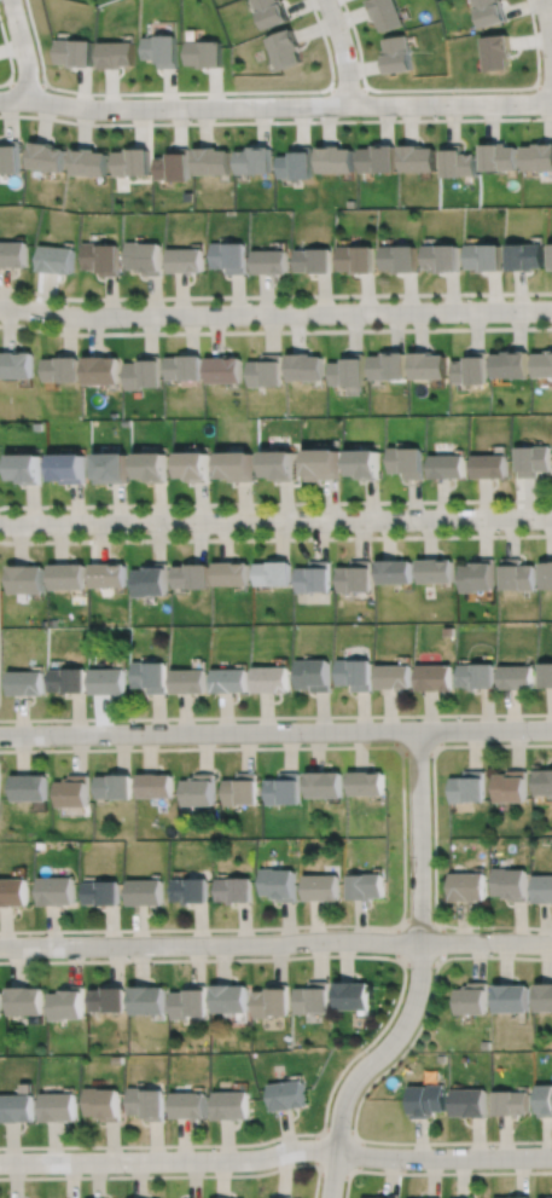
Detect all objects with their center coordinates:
building: (489, 11)
street lamp: (25, 12)
building: (272, 12)
building: (385, 13)
street lamp: (536, 22)
road: (548, 25)
street lamp: (354, 44)
road: (23, 48)
building: (285, 48)
building: (163, 50)
road: (343, 51)
building: (496, 51)
building: (76, 52)
building: (207, 53)
building: (117, 54)
building: (396, 54)
road: (7, 57)
road: (25, 83)
road: (542, 87)
road: (447, 88)
street lamp: (50, 89)
road: (347, 89)
road: (188, 92)
street lamp: (320, 94)
road: (275, 105)
street lamp: (438, 116)
street lamp: (192, 120)
road: (275, 122)
building: (8, 157)
building: (46, 157)
building: (498, 157)
building: (538, 157)
building: (376, 158)
building: (416, 158)
building: (333, 160)
building: (213, 161)
building: (255, 161)
building: (89, 162)
building: (132, 162)
building: (455, 162)
building: (296, 163)
building: (174, 166)
building: (13, 255)
building: (146, 257)
building: (231, 257)
building: (484, 257)
building: (527, 257)
building: (103, 259)
building: (399, 259)
building: (442, 259)
building: (57, 260)
building: (356, 260)
building: (187, 261)
building: (314, 261)
building: (273, 262)
road: (275, 296)
street lamp: (465, 299)
street lamp: (252, 301)
road: (275, 313)
street lamp: (367, 325)
street lamp: (121, 328)
road: (275, 330)
building: (16, 365)
building: (510, 365)
building: (542, 365)
building: (387, 366)
building: (426, 366)
building: (303, 367)
building: (185, 369)
building: (60, 370)
building: (223, 370)
building: (266, 370)
building: (347, 370)
building: (470, 370)
building: (100, 371)
building: (143, 374)
building: (535, 458)
building: (408, 459)
building: (364, 461)
building: (323, 462)
building: (196, 463)
building: (238, 463)
building: (279, 463)
building: (492, 463)
building: (112, 464)
building: (152, 464)
building: (449, 464)
building: (25, 465)
building: (69, 465)
road: (275, 503)
street lamp: (515, 505)
street lamp: (301, 508)
street lamp: (48, 513)
road: (275, 521)
street lamp: (416, 531)
street lamp: (169, 534)
road: (275, 538)
building: (436, 568)
building: (394, 569)
building: (232, 572)
building: (274, 572)
building: (547, 572)
building: (108, 573)
building: (517, 573)
building: (66, 574)
building: (192, 574)
building: (477, 574)
building: (355, 575)
building: (314, 577)
building: (25, 578)
building: (150, 579)
building: (356, 673)
building: (547, 673)
building: (316, 675)
building: (480, 675)
building: (152, 676)
building: (395, 676)
building: (437, 676)
building: (519, 676)
building: (274, 678)
building: (69, 679)
building: (110, 679)
building: (192, 679)
building: (233, 679)
building: (28, 682)
road: (275, 717)
street lamp: (417, 718)
street lamp: (172, 722)
road: (275, 733)
street lamp: (531, 741)
street lamp: (54, 745)
street lamp: (304, 745)
road: (418, 746)
building: (545, 781)
building: (368, 783)
building: (156, 785)
building: (326, 785)
building: (115, 786)
building: (511, 786)
building: (29, 787)
building: (470, 787)
building: (199, 789)
building: (243, 789)
building: (284, 789)
building: (72, 791)
road: (434, 834)
road: (403, 837)
building: (280, 884)
building: (511, 884)
building: (368, 886)
building: (324, 887)
building: (470, 887)
building: (544, 889)
building: (237, 890)
building: (58, 891)
building: (192, 891)
building: (14, 892)
building: (104, 892)
building: (147, 892)
road: (275, 943)
road: (403, 956)
road: (419, 977)
building: (0, 989)
building: (0, 995)
building: (353, 996)
building: (511, 997)
building: (542, 997)
building: (231, 999)
building: (314, 999)
building: (473, 999)
building: (110, 1000)
building: (149, 1000)
building: (27, 1001)
building: (191, 1002)
building: (272, 1002)
building: (68, 1003)
road: (391, 1015)
road: (372, 1082)
building: (290, 1096)
building: (542, 1100)
building: (428, 1101)
building: (469, 1101)
building: (105, 1104)
building: (150, 1104)
building: (511, 1104)
building: (192, 1106)
building: (234, 1106)
building: (60, 1107)
building: (18, 1109)
road: (275, 1153)
road: (348, 1167)
road: (435, 1171)
road: (178, 1174)
building: (379, 1196)
building: (460, 1196)
building: (283, 1197)
building: (426, 1197)
building: (510, 1197)

